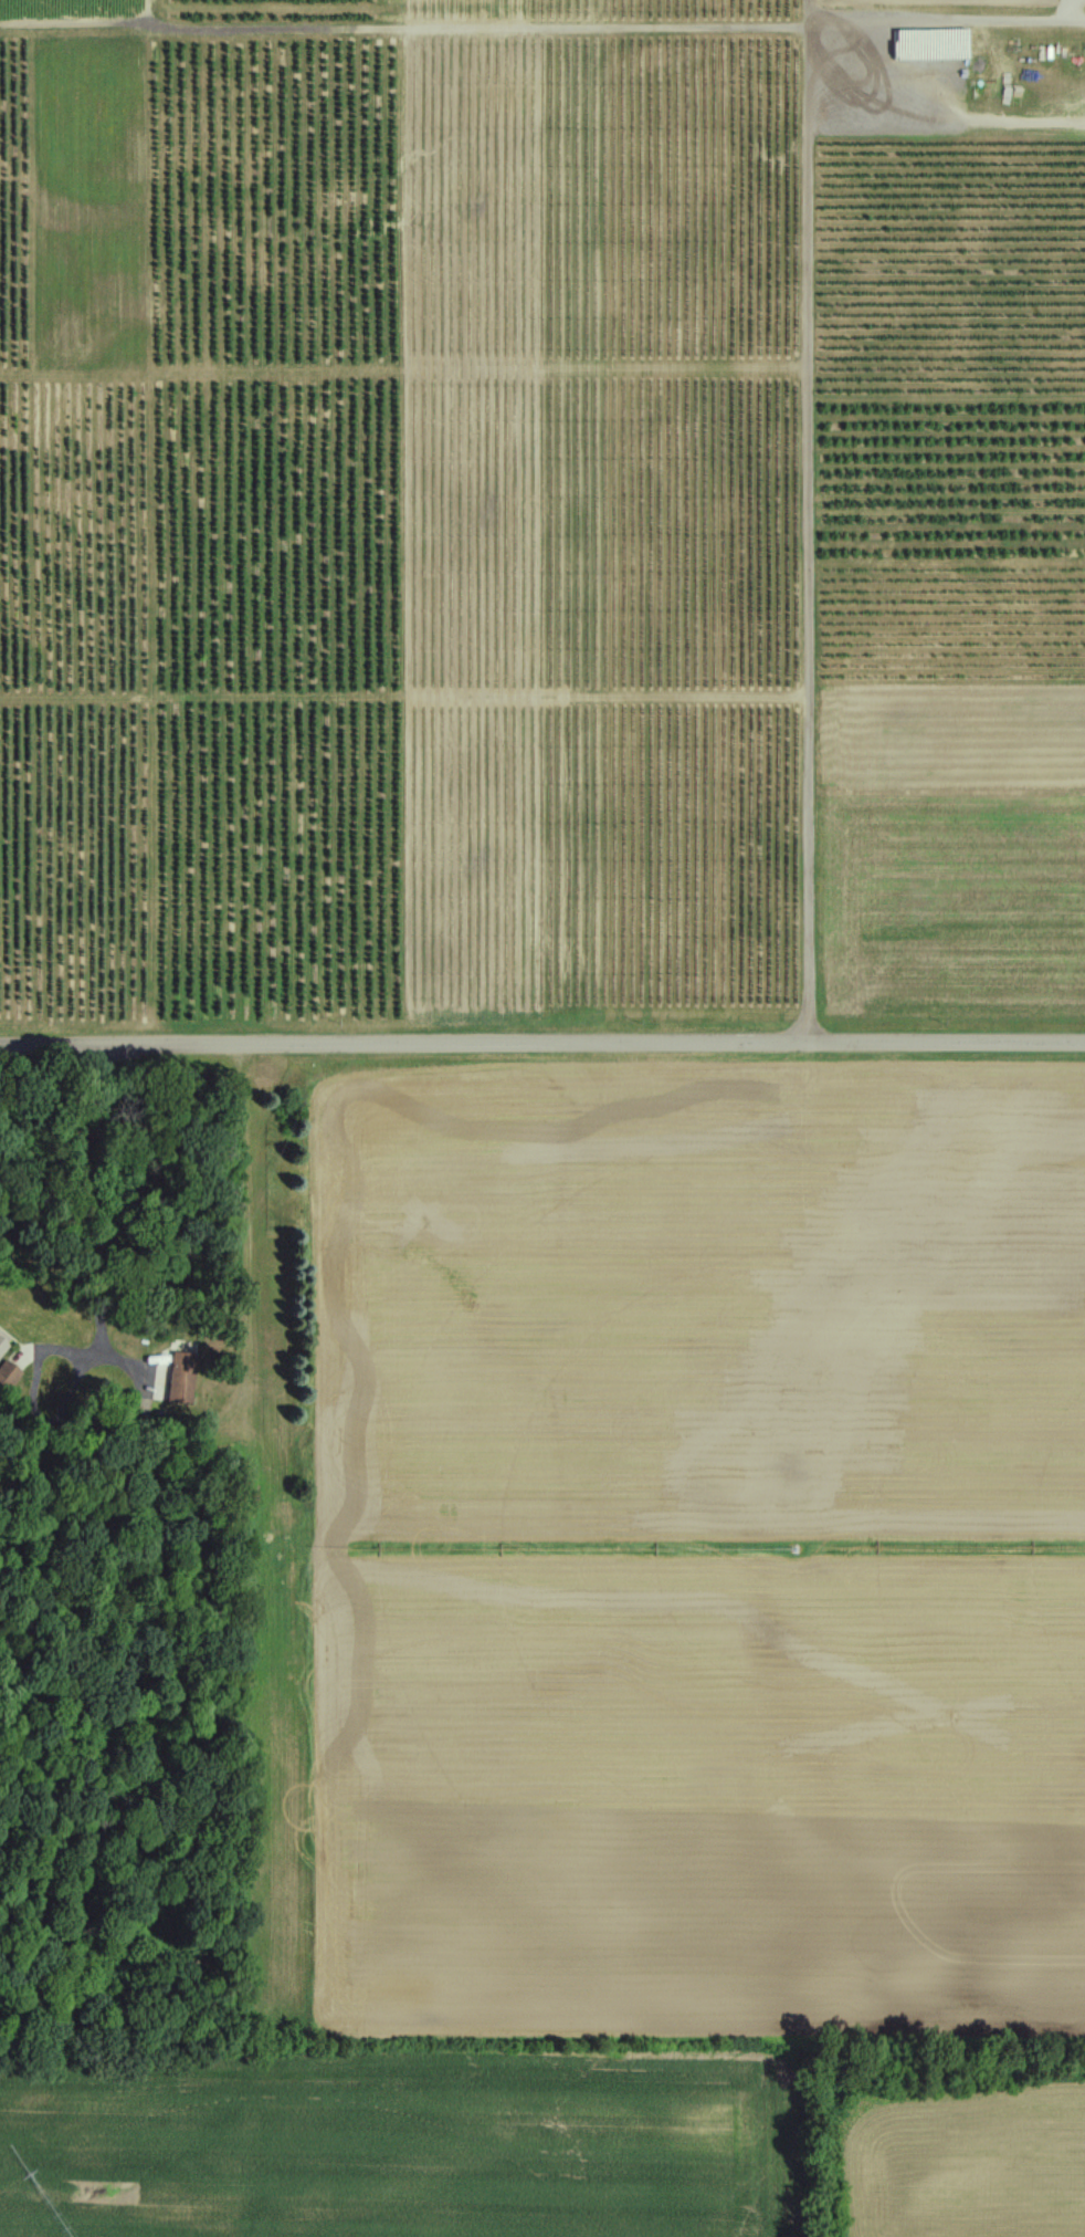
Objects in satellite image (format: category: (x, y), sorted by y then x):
building: (923, 42)
road: (861, 55)
road: (541, 1042)
road: (247, 1232)
road: (97, 1306)
building: (6, 1344)
road: (120, 1360)
building: (186, 1376)

